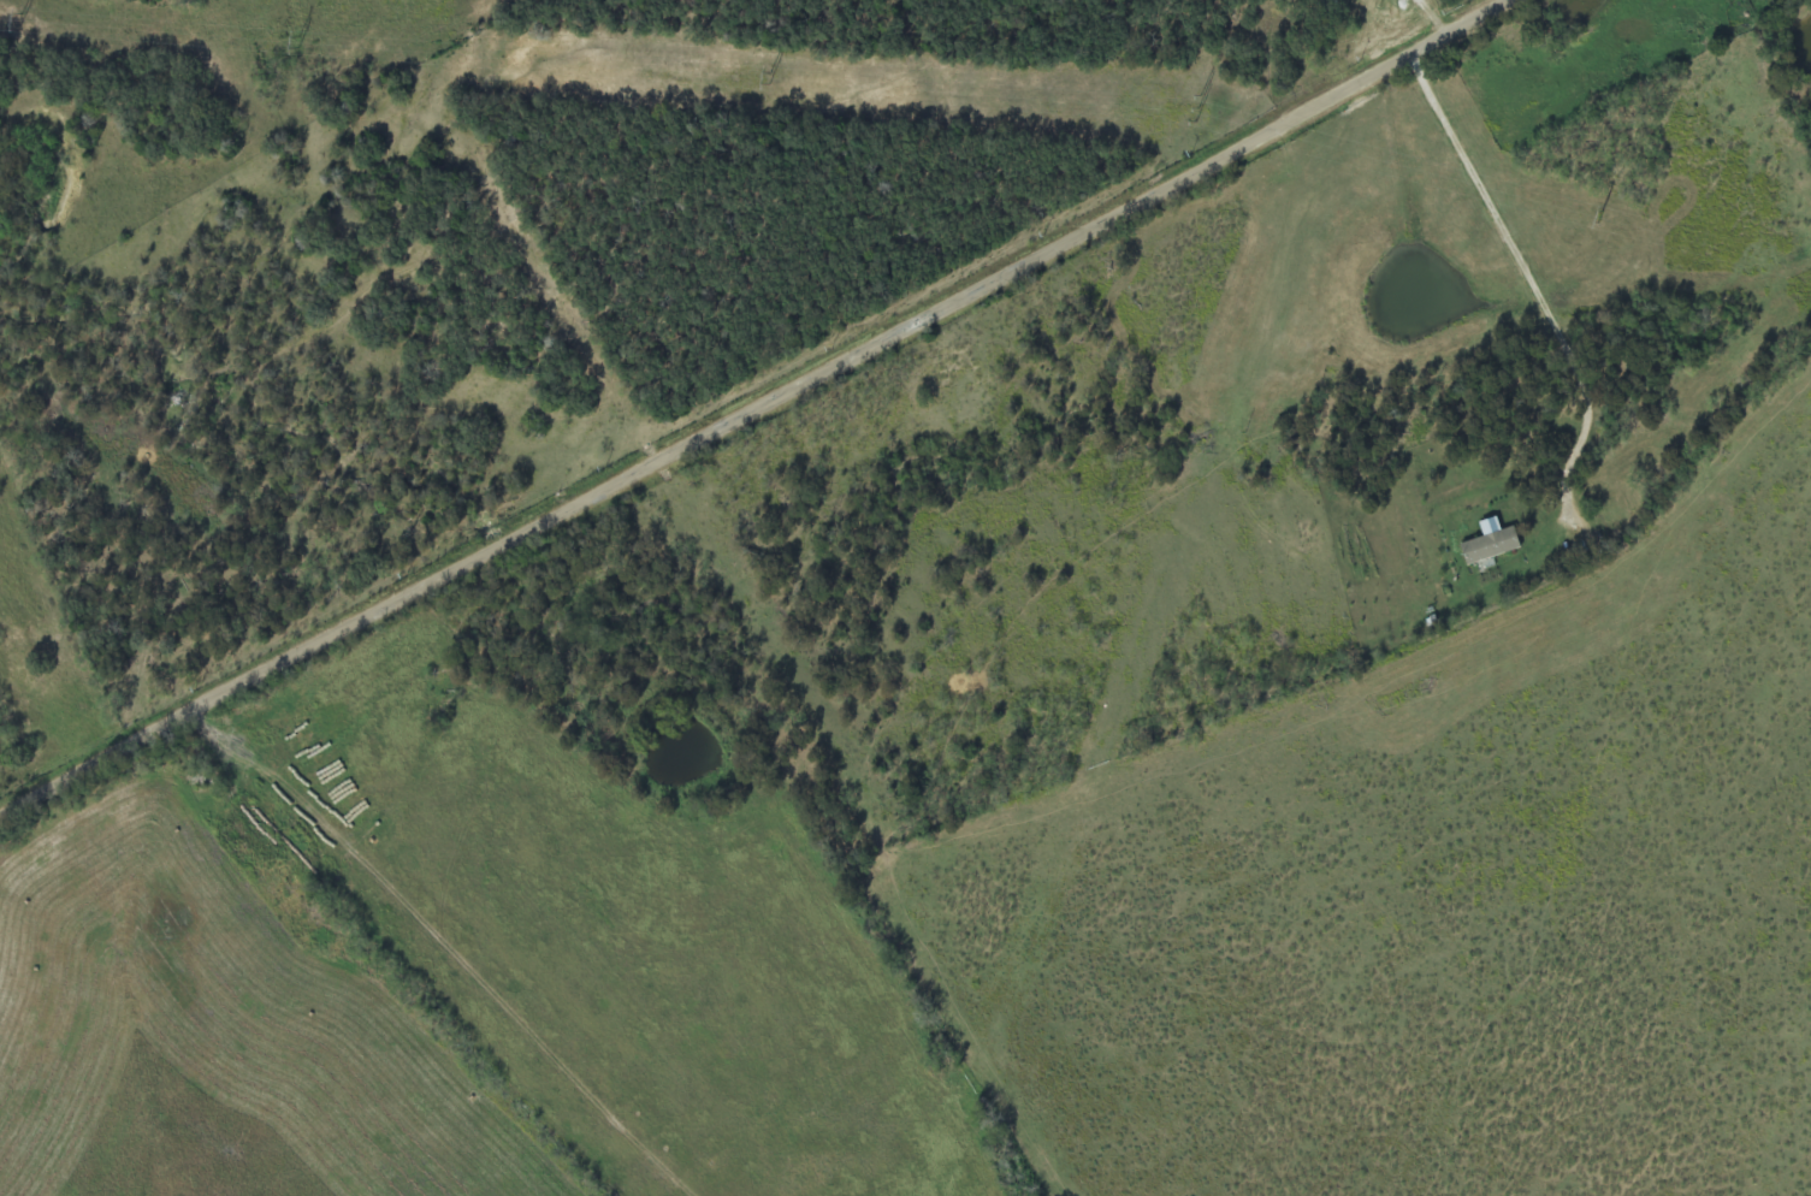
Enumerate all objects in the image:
power tower: (22, 17)
power tower: (297, 41)
power tower: (768, 77)
power tower: (1199, 107)
power tower: (1600, 215)
road: (759, 414)
building: (1490, 543)

